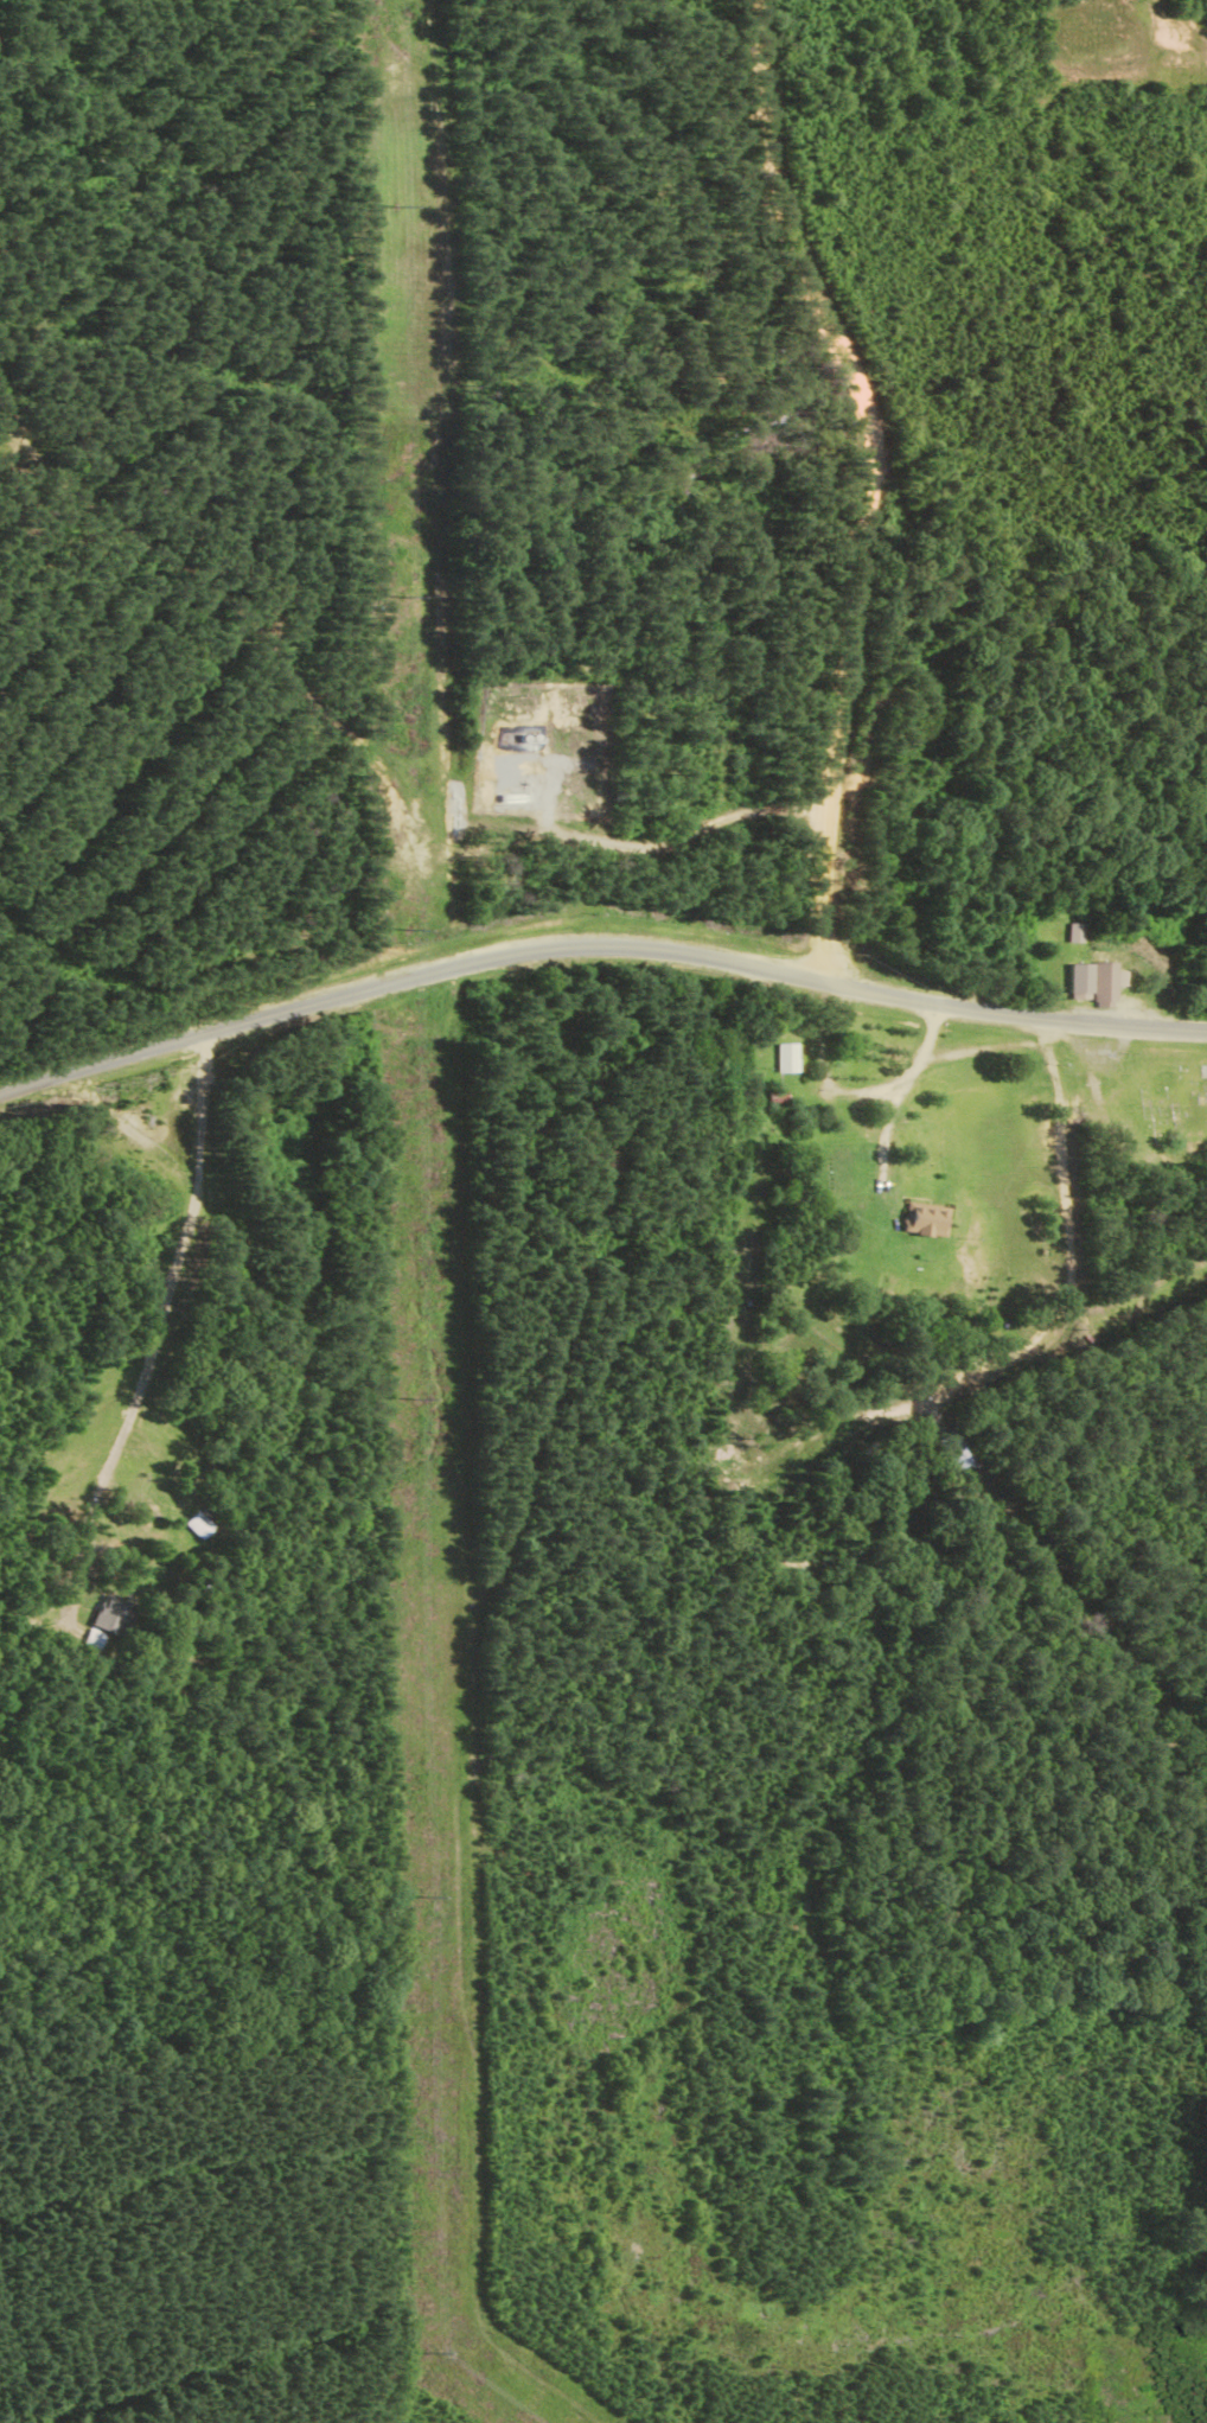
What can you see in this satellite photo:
road: (871, 480)
building: (510, 803)
building: (1072, 938)
road: (596, 946)
building: (1098, 980)
building: (784, 1061)
road: (854, 1095)
building: (924, 1224)
road: (1069, 1246)
road: (164, 1321)
building: (952, 1454)
building: (207, 1543)
building: (109, 1619)

